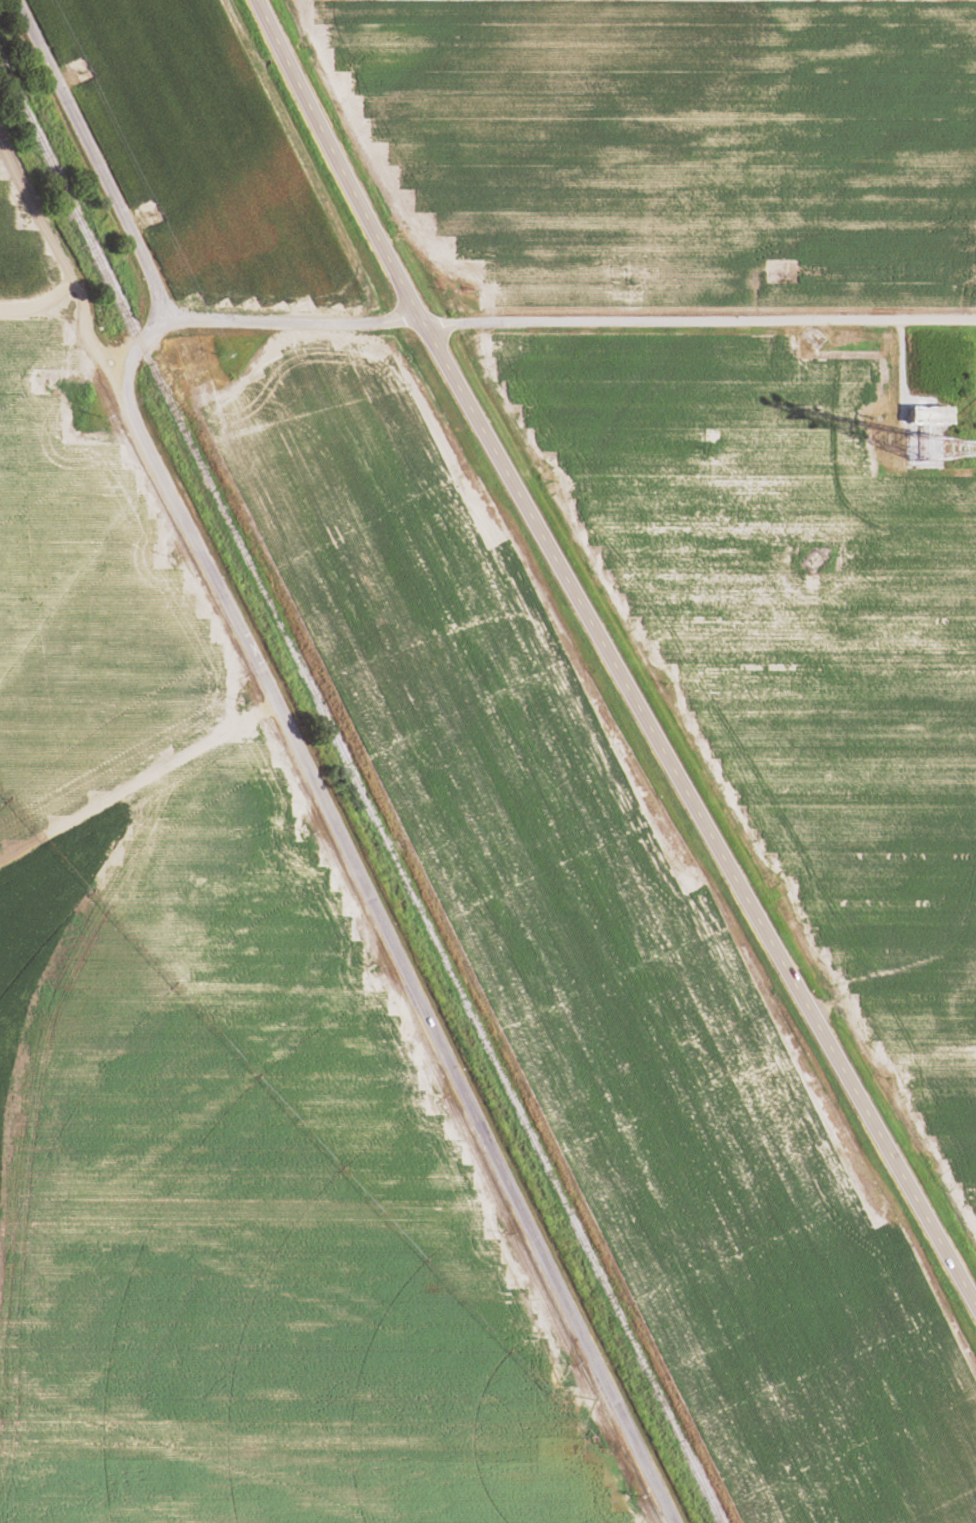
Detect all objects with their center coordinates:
road: (90, 161)
road: (70, 321)
road: (295, 321)
road: (698, 321)
building: (930, 415)
road: (609, 659)
road: (135, 784)
railway: (361, 792)
road: (373, 917)
road: (48, 962)
building: (893, 1168)

